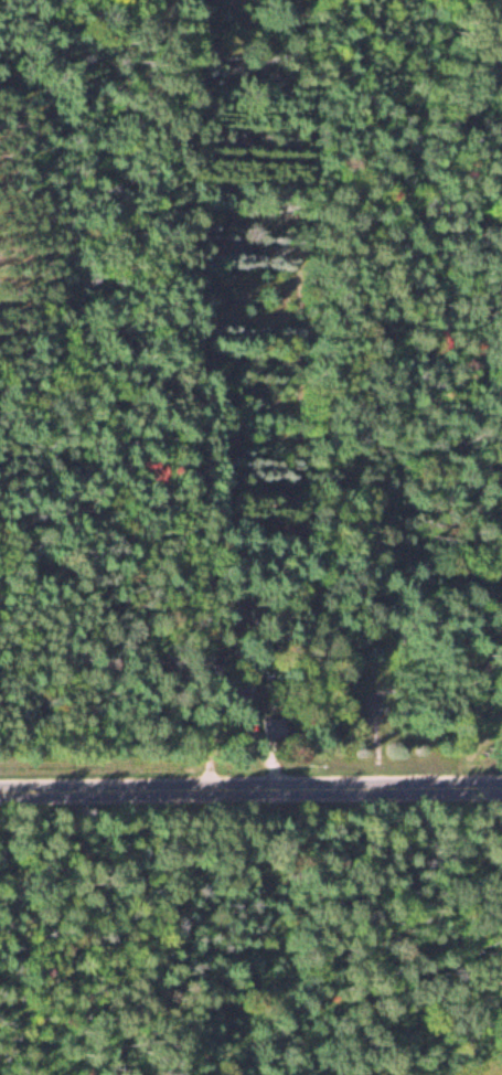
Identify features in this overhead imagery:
building: (228, 684)
building: (274, 728)
road: (250, 795)

